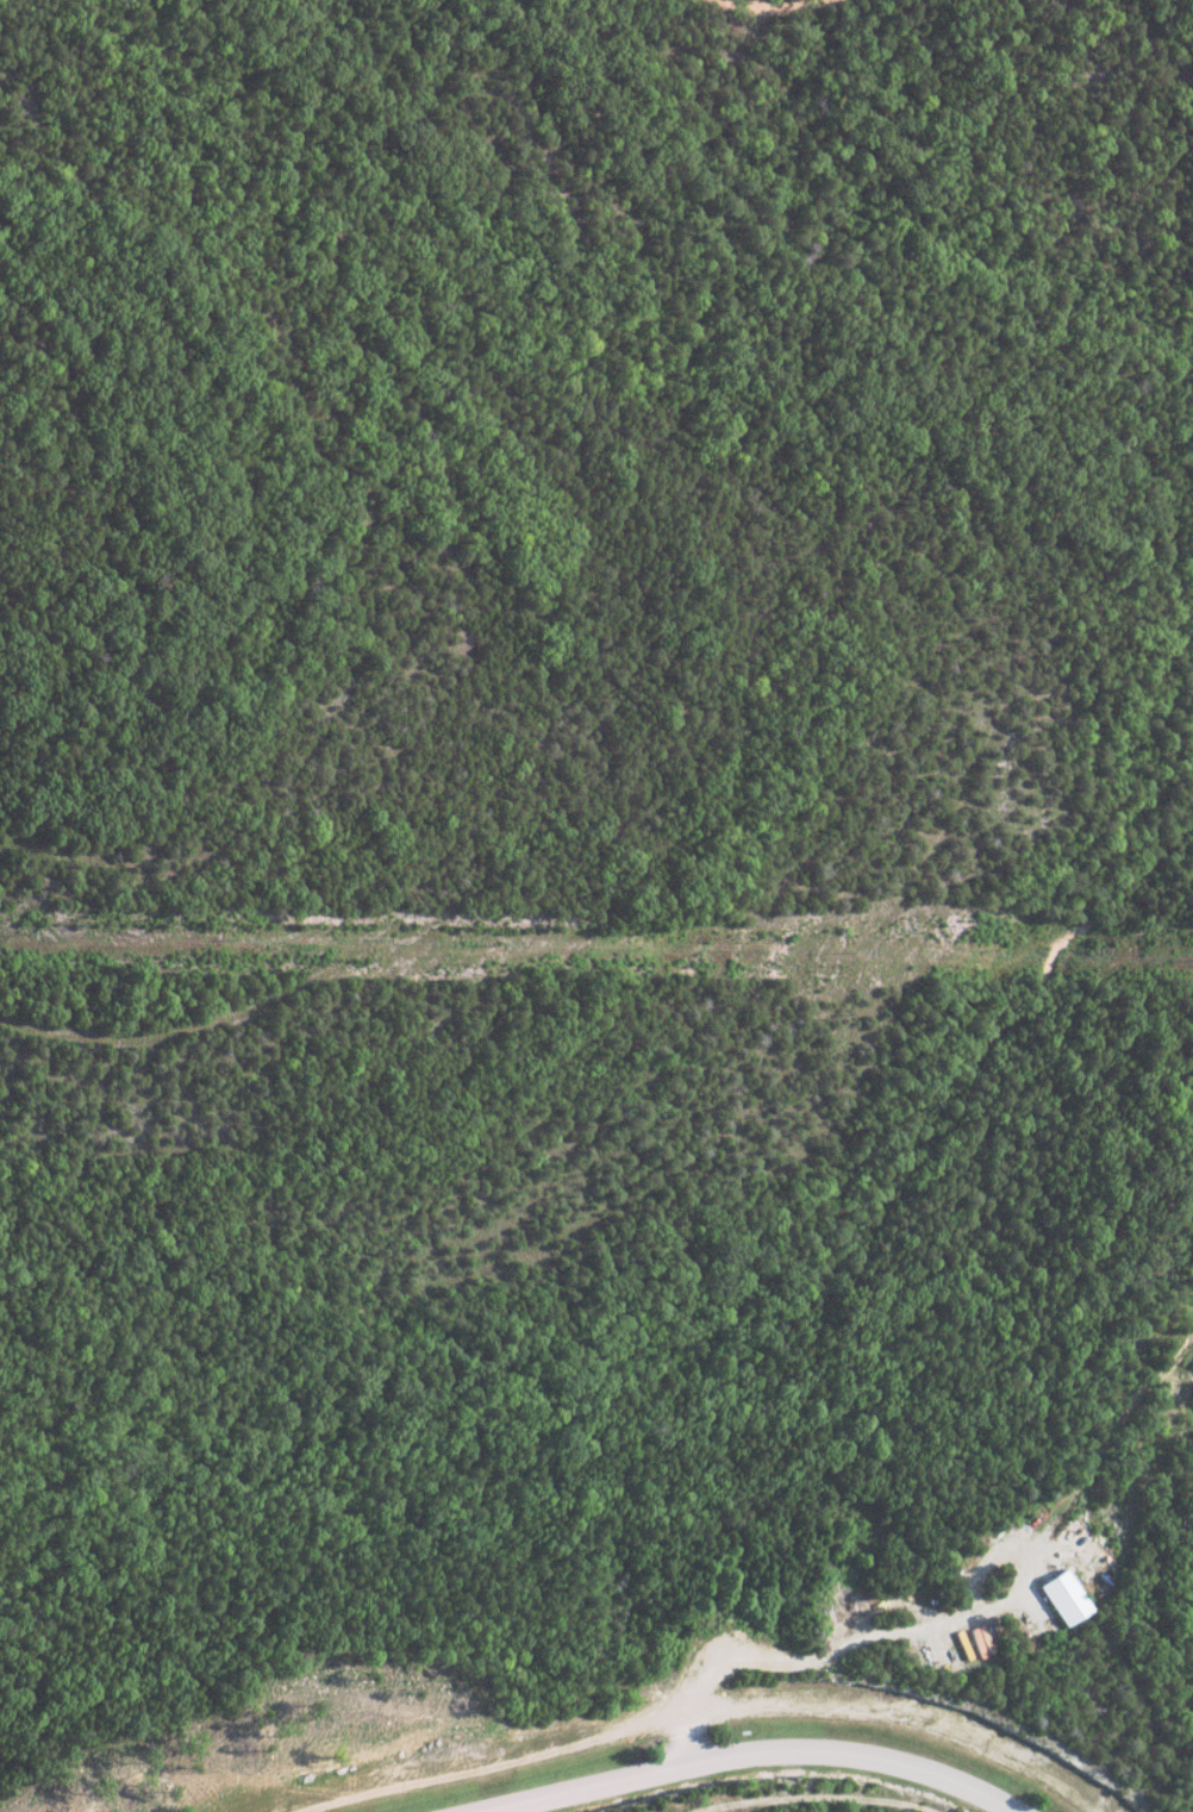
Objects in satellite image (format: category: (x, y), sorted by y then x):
building: (1066, 1597)
road: (833, 1641)
road: (752, 1749)

